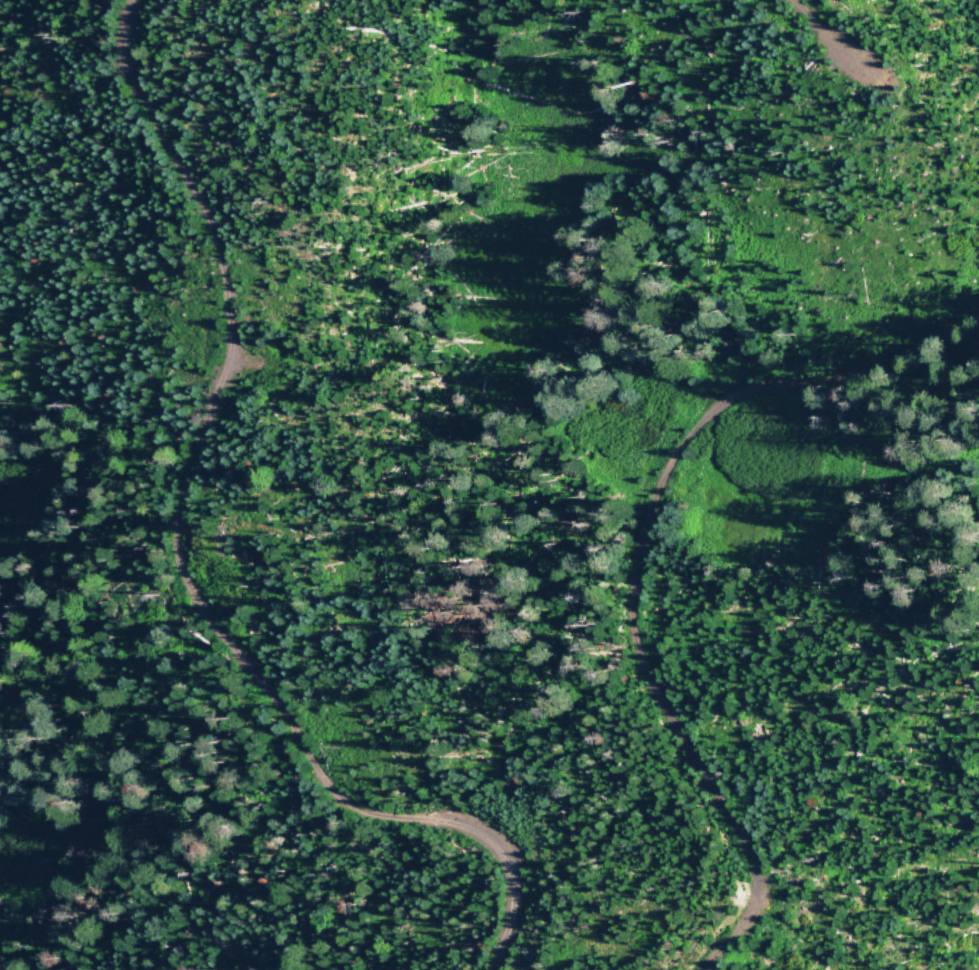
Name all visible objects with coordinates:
road: (819, 31)
road: (168, 559)
road: (641, 566)

